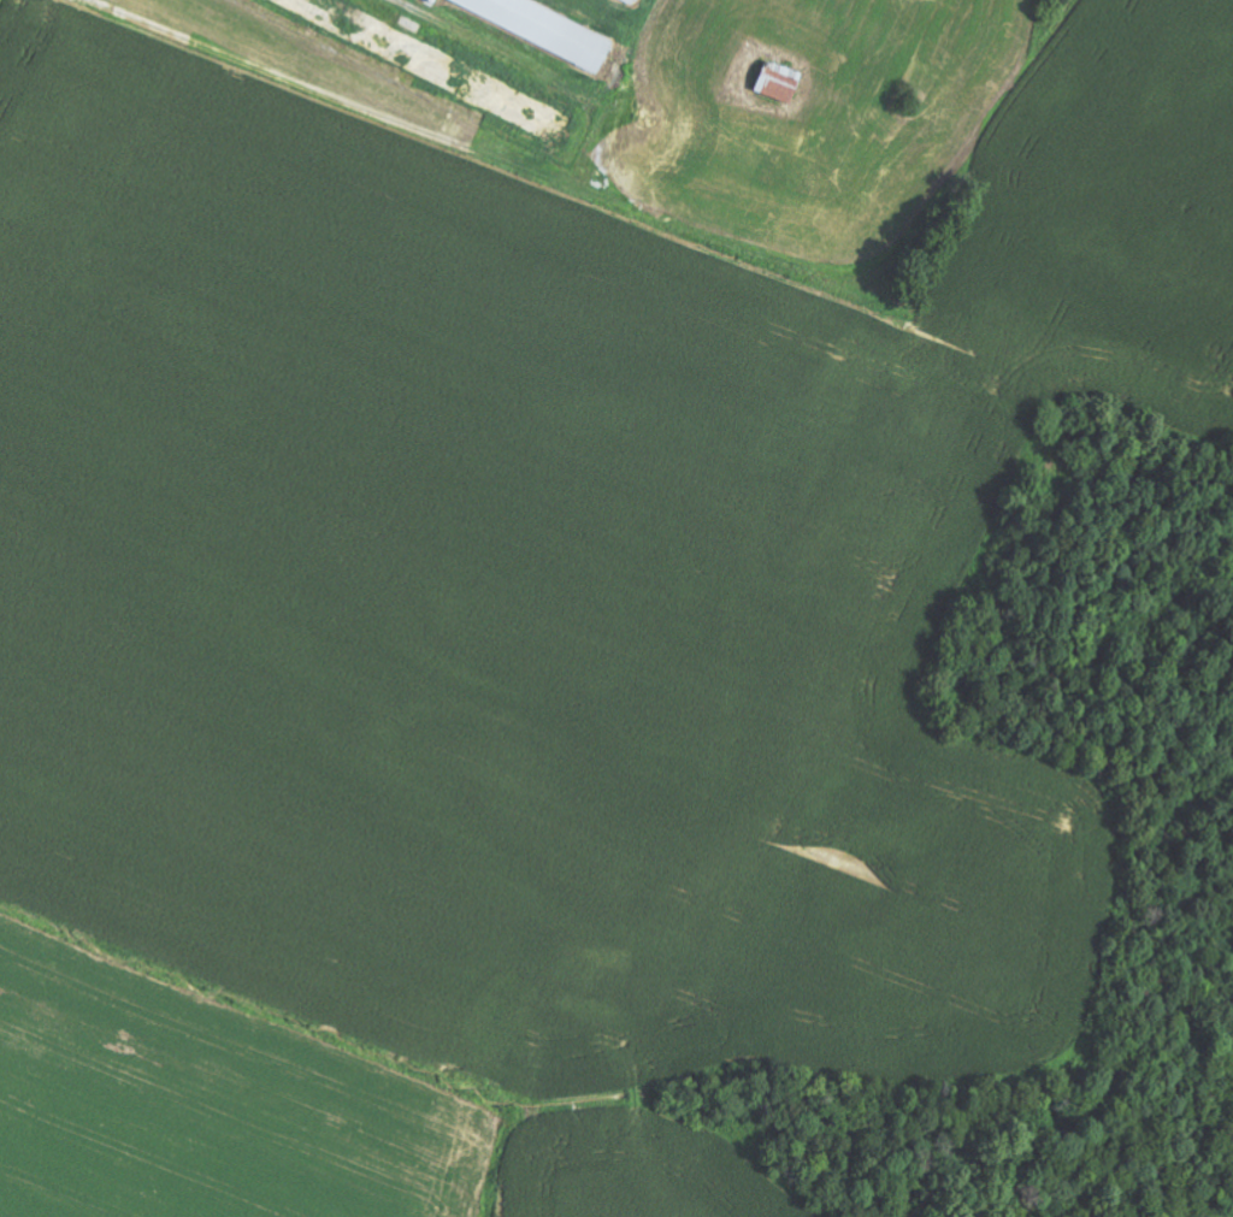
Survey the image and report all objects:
building: (554, 24)
building: (779, 83)

